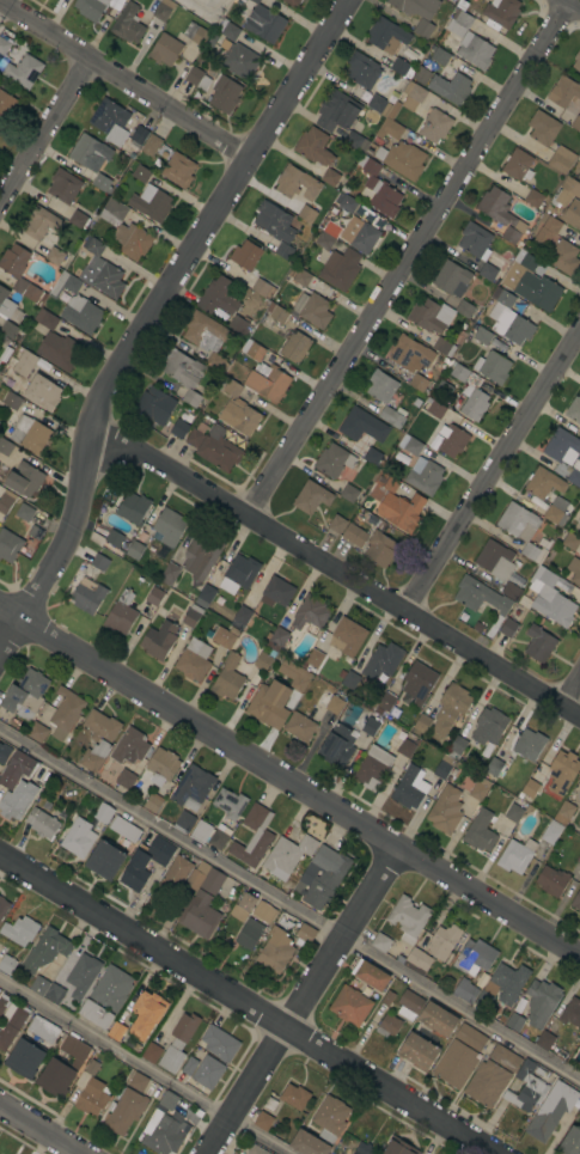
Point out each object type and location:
road: (204, 0)
building: (477, 1)
building: (293, 2)
road: (573, 4)
road: (1, 5)
building: (115, 5)
building: (416, 7)
building: (90, 8)
building: (163, 10)
building: (502, 12)
building: (264, 23)
building: (459, 23)
building: (128, 24)
building: (227, 29)
building: (423, 29)
building: (197, 32)
building: (387, 35)
building: (4, 47)
building: (165, 49)
building: (475, 50)
building: (409, 55)
building: (440, 56)
building: (238, 59)
building: (576, 61)
building: (398, 66)
building: (23, 71)
building: (361, 71)
building: (421, 75)
building: (197, 78)
road: (123, 80)
building: (451, 87)
building: (566, 94)
building: (413, 96)
building: (225, 97)
building: (378, 104)
building: (6, 105)
building: (337, 111)
building: (110, 121)
building: (575, 123)
building: (390, 124)
building: (434, 126)
building: (543, 128)
road: (44, 129)
building: (139, 135)
building: (355, 141)
building: (151, 145)
building: (313, 147)
building: (88, 152)
building: (579, 158)
building: (402, 159)
building: (561, 159)
building: (579, 159)
building: (518, 165)
building: (178, 170)
building: (141, 173)
building: (330, 177)
building: (100, 182)
building: (297, 183)
building: (63, 185)
building: (378, 189)
building: (535, 200)
building: (346, 202)
building: (558, 202)
building: (151, 203)
building: (501, 213)
building: (306, 214)
building: (78, 219)
building: (274, 221)
building: (42, 225)
building: (124, 230)
building: (330, 231)
building: (547, 231)
building: (348, 232)
building: (361, 234)
building: (324, 240)
building: (475, 240)
building: (93, 246)
building: (283, 250)
building: (245, 255)
building: (54, 256)
building: (563, 257)
road: (408, 258)
building: (340, 269)
building: (488, 271)
building: (20, 273)
building: (300, 276)
building: (103, 277)
building: (451, 277)
building: (530, 282)
building: (65, 283)
building: (261, 287)
building: (218, 297)
building: (5, 304)
building: (312, 309)
building: (464, 309)
building: (81, 313)
building: (279, 315)
building: (429, 315)
road: (148, 317)
building: (45, 319)
building: (509, 319)
building: (238, 324)
building: (10, 330)
building: (282, 330)
building: (204, 331)
building: (480, 334)
building: (295, 347)
building: (444, 347)
building: (60, 350)
building: (255, 350)
building: (5, 353)
building: (410, 354)
building: (214, 361)
building: (24, 362)
building: (493, 367)
building: (182, 368)
building: (459, 372)
building: (267, 381)
building: (417, 381)
building: (232, 387)
building: (43, 392)
building: (386, 397)
building: (191, 398)
building: (12, 401)
building: (151, 402)
building: (416, 402)
building: (474, 402)
building: (435, 408)
building: (25, 409)
building: (574, 410)
building: (239, 416)
building: (175, 426)
building: (362, 432)
building: (30, 434)
building: (194, 438)
building: (452, 440)
building: (410, 445)
building: (562, 446)
building: (5, 448)
building: (218, 450)
building: (332, 460)
road: (493, 471)
building: (574, 474)
building: (423, 476)
building: (24, 478)
building: (387, 482)
building: (543, 483)
building: (349, 493)
building: (311, 497)
building: (6, 501)
building: (579, 502)
building: (133, 508)
building: (401, 511)
building: (556, 511)
building: (24, 512)
building: (579, 520)
building: (336, 524)
building: (169, 525)
building: (521, 529)
building: (35, 532)
building: (354, 535)
building: (579, 535)
building: (108, 538)
building: (570, 541)
building: (8, 545)
building: (135, 549)
building: (379, 549)
building: (201, 555)
building: (495, 560)
building: (99, 562)
road: (336, 569)
building: (574, 569)
building: (169, 573)
building: (238, 573)
building: (517, 580)
building: (511, 591)
building: (276, 592)
building: (206, 593)
building: (480, 596)
building: (154, 597)
building: (87, 598)
building: (550, 598)
building: (310, 612)
building: (121, 613)
building: (191, 616)
building: (240, 618)
building: (508, 627)
building: (347, 636)
building: (224, 637)
building: (276, 639)
building: (159, 640)
building: (538, 643)
building: (315, 658)
building: (194, 659)
building: (262, 661)
building: (381, 664)
building: (294, 674)
building: (228, 678)
building: (349, 682)
building: (419, 683)
road: (570, 690)
building: (25, 692)
building: (329, 701)
building: (385, 702)
building: (269, 704)
building: (451, 708)
building: (66, 713)
building: (422, 722)
building: (300, 725)
building: (100, 726)
building: (371, 726)
building: (489, 726)
building: (37, 732)
building: (529, 744)
building: (337, 745)
building: (129, 746)
building: (405, 747)
building: (456, 747)
building: (5, 752)
building: (93, 757)
building: (163, 764)
building: (494, 765)
building: (372, 767)
building: (444, 767)
building: (18, 769)
building: (562, 771)
building: (126, 779)
building: (191, 787)
road: (288, 788)
building: (530, 788)
building: (409, 790)
building: (478, 790)
building: (579, 793)
building: (17, 799)
building: (153, 802)
building: (228, 804)
building: (445, 810)
building: (563, 812)
building: (103, 813)
building: (513, 813)
building: (184, 822)
building: (579, 822)
building: (42, 824)
building: (124, 829)
building: (200, 831)
building: (480, 831)
building: (551, 832)
building: (219, 836)
building: (254, 836)
building: (78, 838)
building: (287, 855)
building: (515, 855)
building: (105, 859)
building: (578, 859)
building: (145, 861)
building: (175, 874)
building: (196, 875)
building: (322, 877)
building: (552, 880)
building: (212, 881)
building: (576, 900)
road: (288, 904)
building: (2, 906)
building: (243, 906)
building: (263, 911)
building: (200, 915)
building: (408, 918)
building: (19, 930)
building: (250, 934)
building: (304, 935)
building: (380, 942)
building: (442, 942)
building: (44, 951)
building: (275, 951)
building: (475, 957)
building: (416, 960)
building: (7, 964)
building: (80, 973)
building: (372, 976)
building: (509, 982)
building: (38, 985)
building: (55, 988)
building: (111, 988)
building: (465, 990)
building: (387, 997)
building: (483, 999)
building: (541, 1002)
road: (233, 1003)
road: (295, 1003)
building: (1, 1005)
building: (409, 1005)
building: (350, 1006)
building: (570, 1013)
building: (94, 1014)
building: (146, 1014)
building: (500, 1018)
building: (438, 1019)
building: (514, 1021)
building: (11, 1024)
building: (387, 1025)
building: (43, 1028)
building: (116, 1031)
building: (470, 1037)
building: (544, 1040)
building: (178, 1043)
building: (220, 1043)
building: (133, 1045)
building: (419, 1051)
building: (151, 1052)
building: (24, 1058)
building: (505, 1058)
building: (454, 1064)
road: (145, 1066)
building: (91, 1067)
building: (189, 1067)
building: (62, 1068)
building: (207, 1071)
building: (138, 1082)
building: (487, 1083)
building: (525, 1089)
building: (92, 1097)
building: (294, 1097)
building: (169, 1100)
building: (123, 1111)
building: (551, 1111)
building: (579, 1111)
building: (330, 1118)
building: (263, 1121)
road: (36, 1131)
building: (163, 1132)
building: (570, 1142)
building: (309, 1143)
building: (397, 1147)
building: (364, 1148)
building: (256, 1149)

